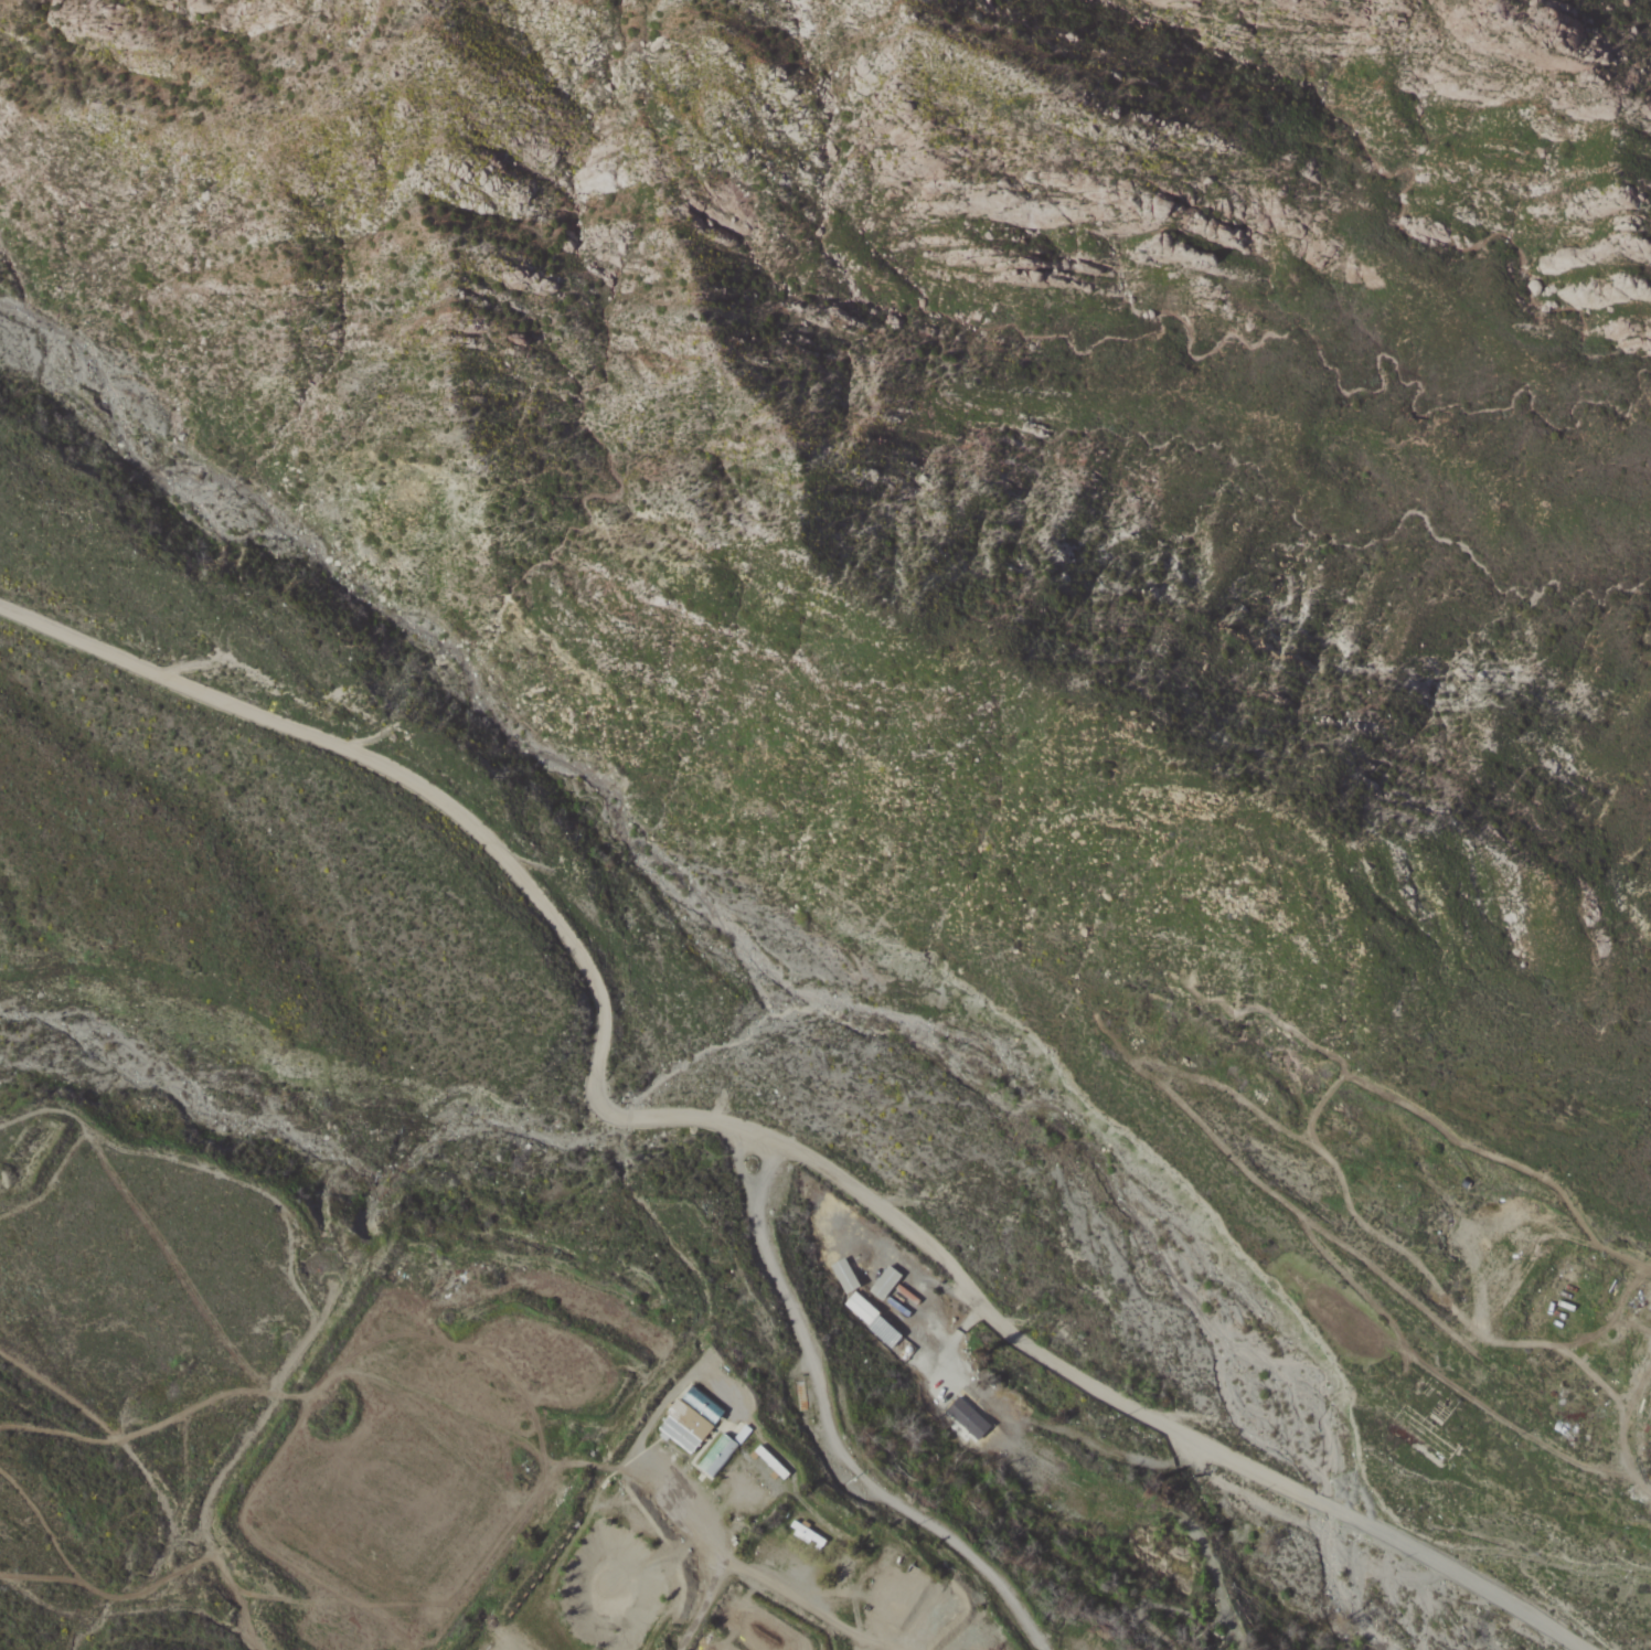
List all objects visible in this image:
road: (745, 1130)
building: (968, 1418)
road: (839, 1426)
road: (1594, 1428)
building: (717, 1456)
road: (756, 1575)
road: (872, 1648)

